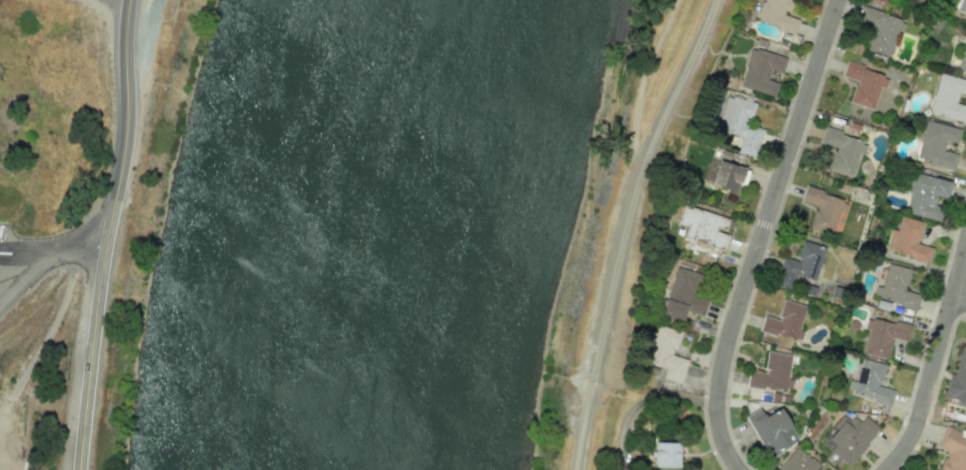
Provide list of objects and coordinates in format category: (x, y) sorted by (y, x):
building: (961, 6)
building: (776, 14)
building: (882, 31)
building: (963, 57)
building: (761, 70)
building: (864, 84)
building: (948, 97)
building: (740, 123)
building: (937, 145)
building: (843, 150)
building: (729, 176)
building: (926, 196)
building: (824, 209)
building: (703, 226)
road: (624, 228)
river: (367, 232)
road: (106, 234)
road: (763, 235)
building: (908, 240)
road: (25, 246)
road: (78, 248)
road: (25, 256)
building: (800, 265)
road: (25, 277)
building: (897, 287)
building: (683, 295)
road: (960, 296)
building: (785, 321)
building: (882, 336)
building: (665, 352)
road: (935, 364)
building: (772, 373)
building: (958, 379)
building: (870, 382)
building: (771, 430)
building: (850, 438)
building: (953, 449)
building: (666, 454)
building: (799, 462)

